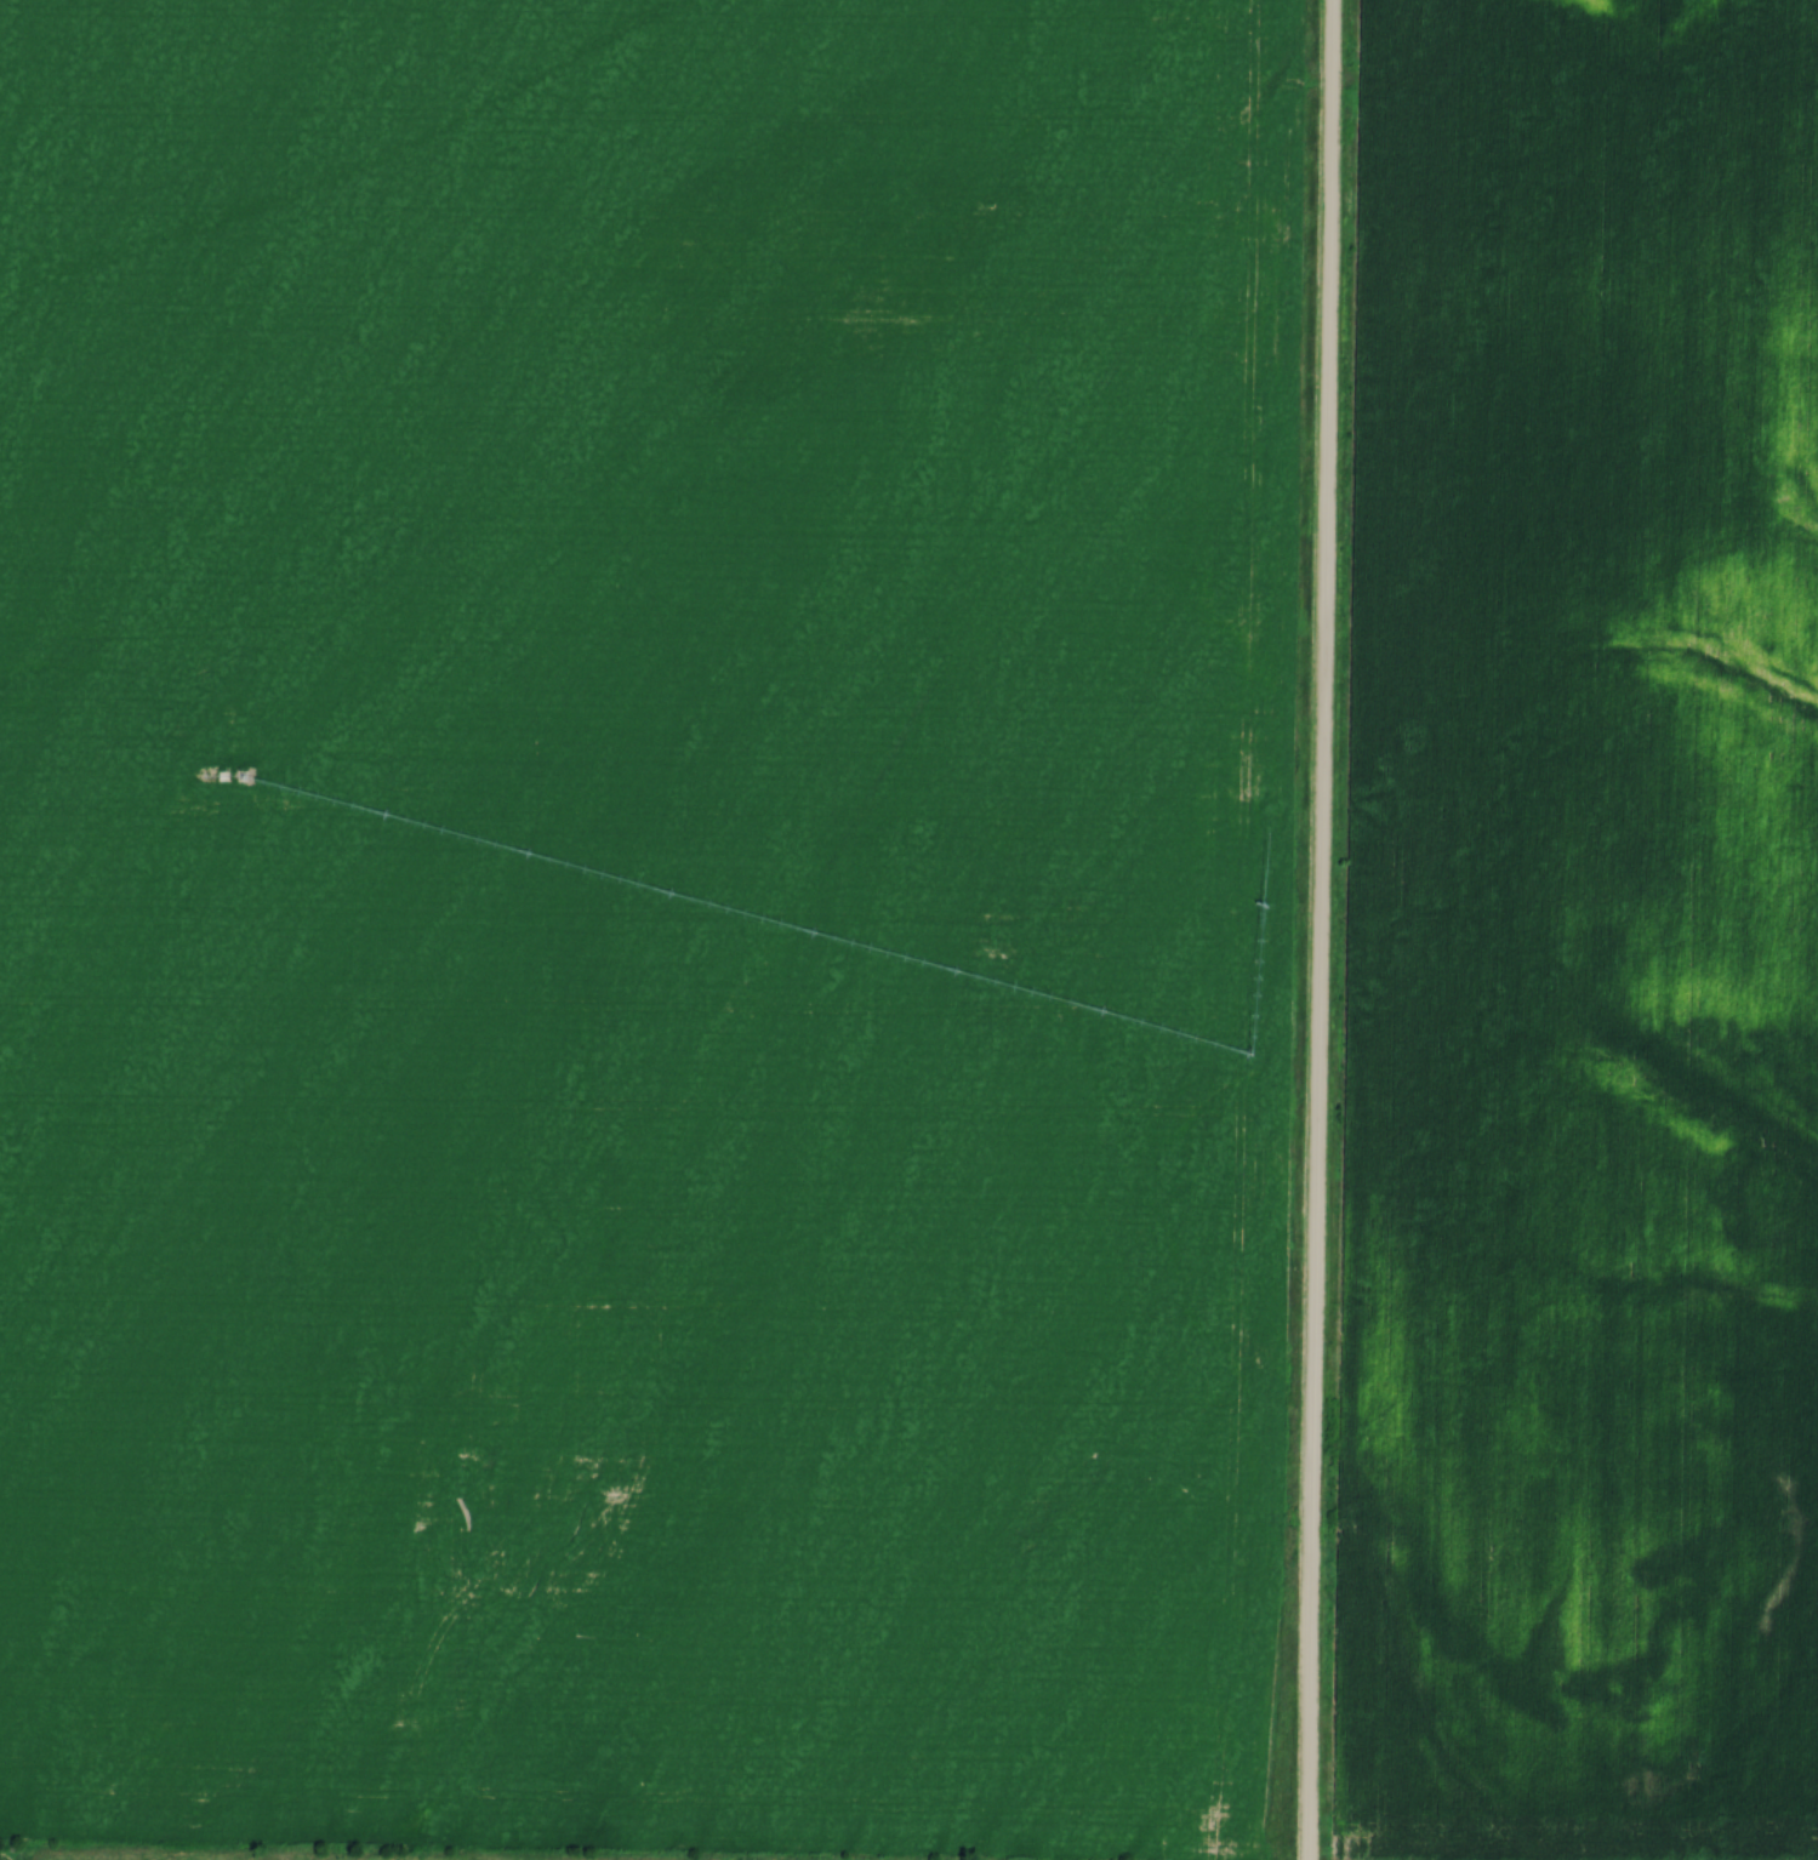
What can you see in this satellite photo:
road: (1316, 930)

